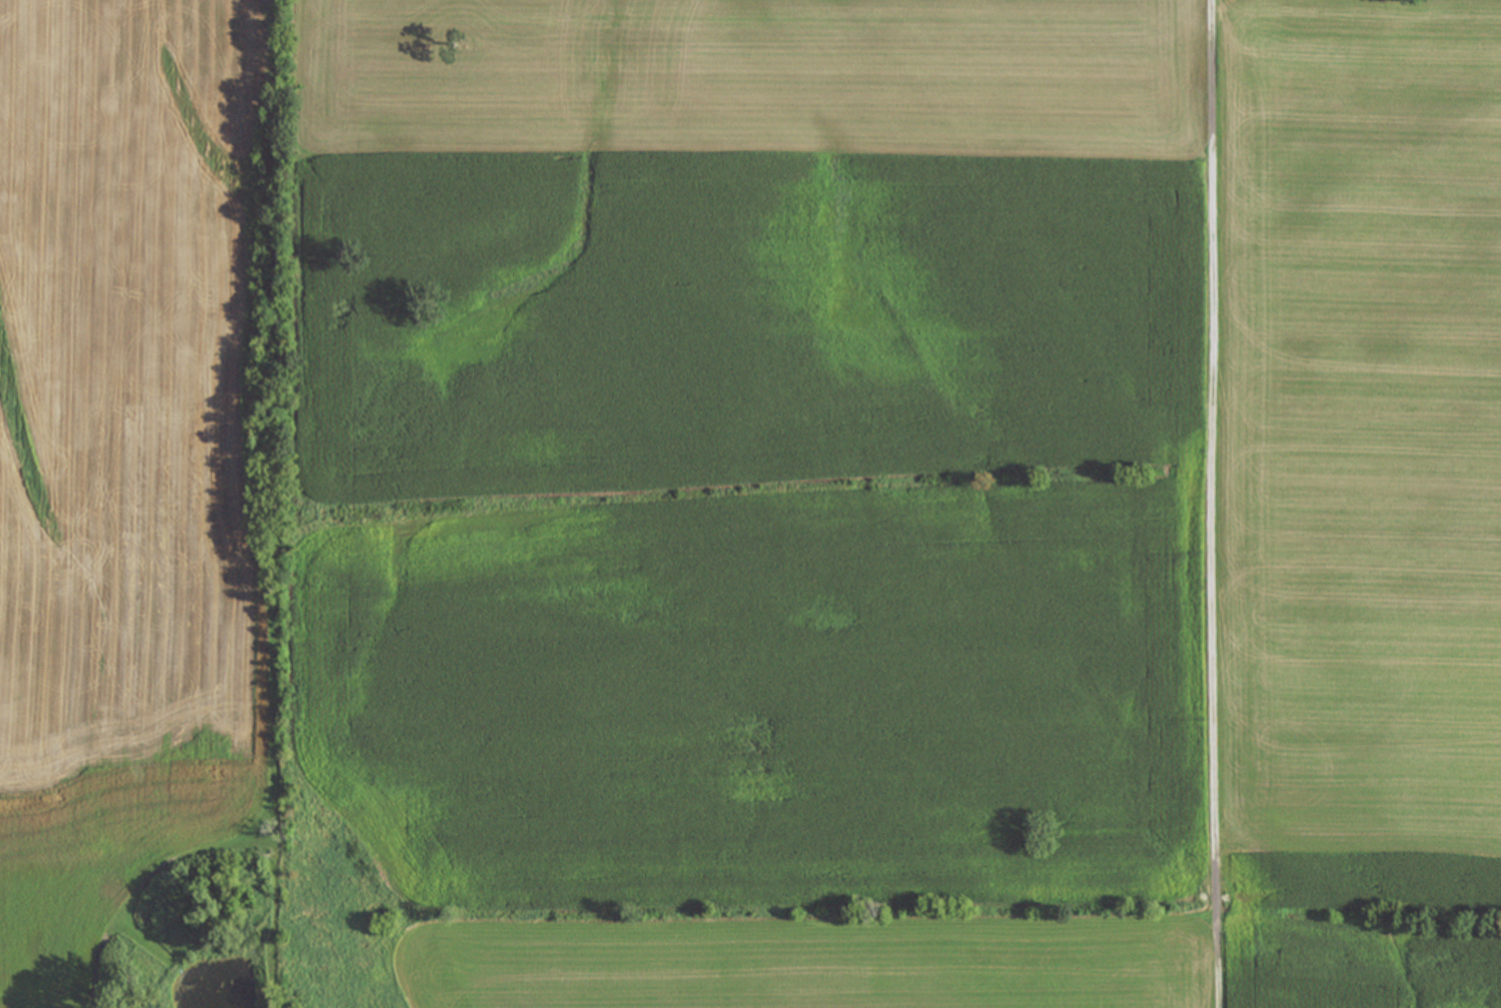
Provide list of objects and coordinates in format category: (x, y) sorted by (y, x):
road: (1212, 504)

